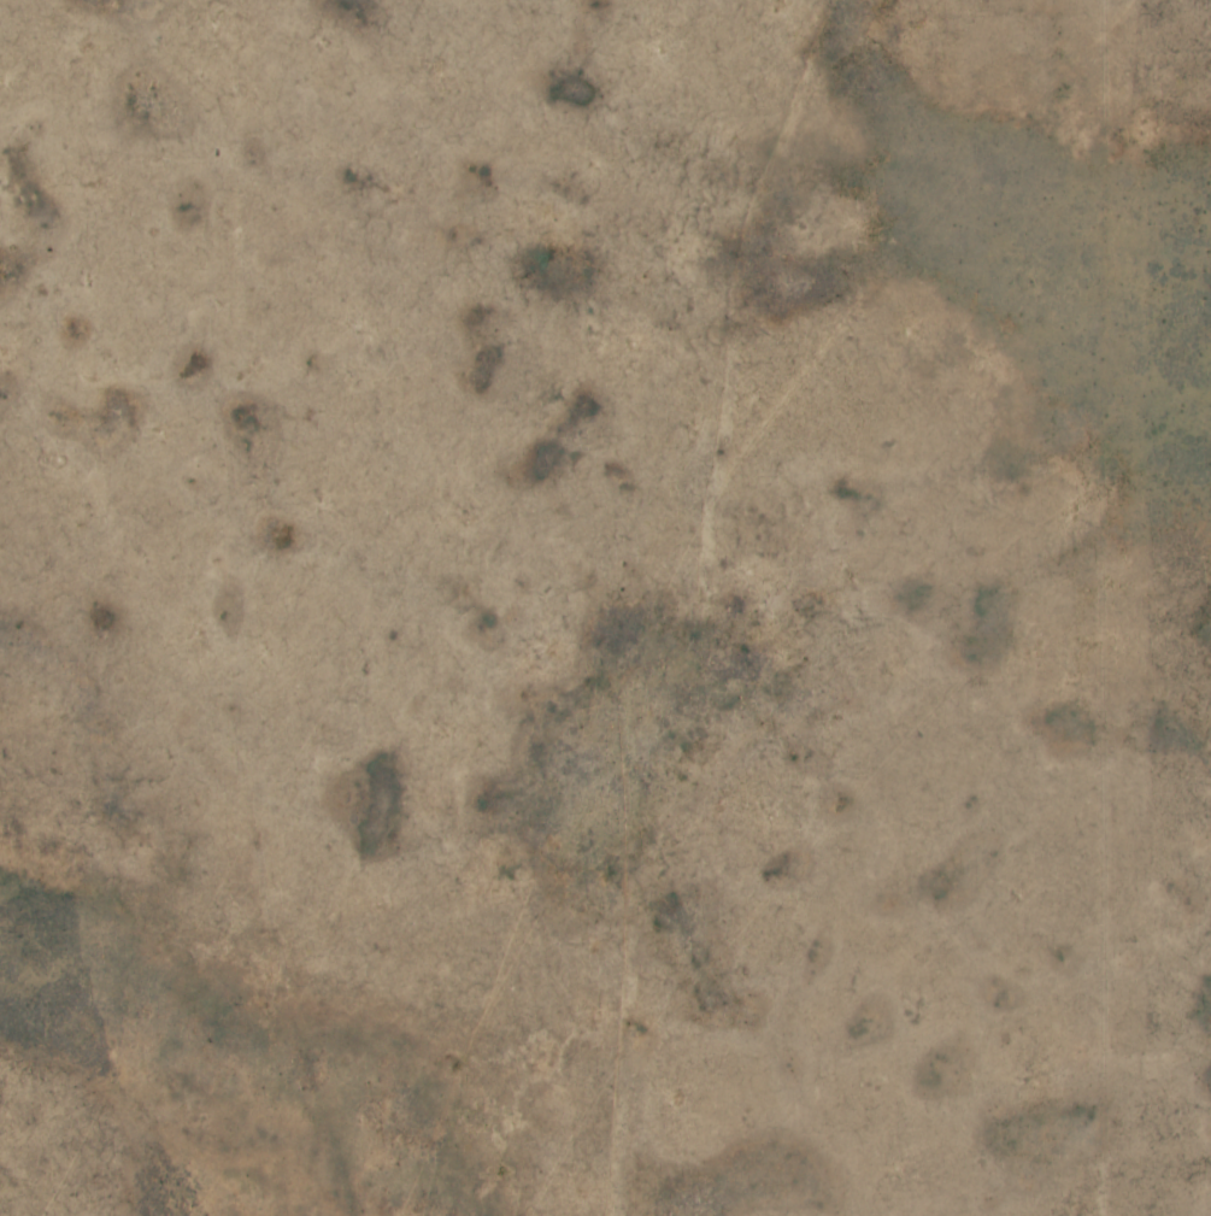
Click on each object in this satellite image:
road: (1103, 607)

